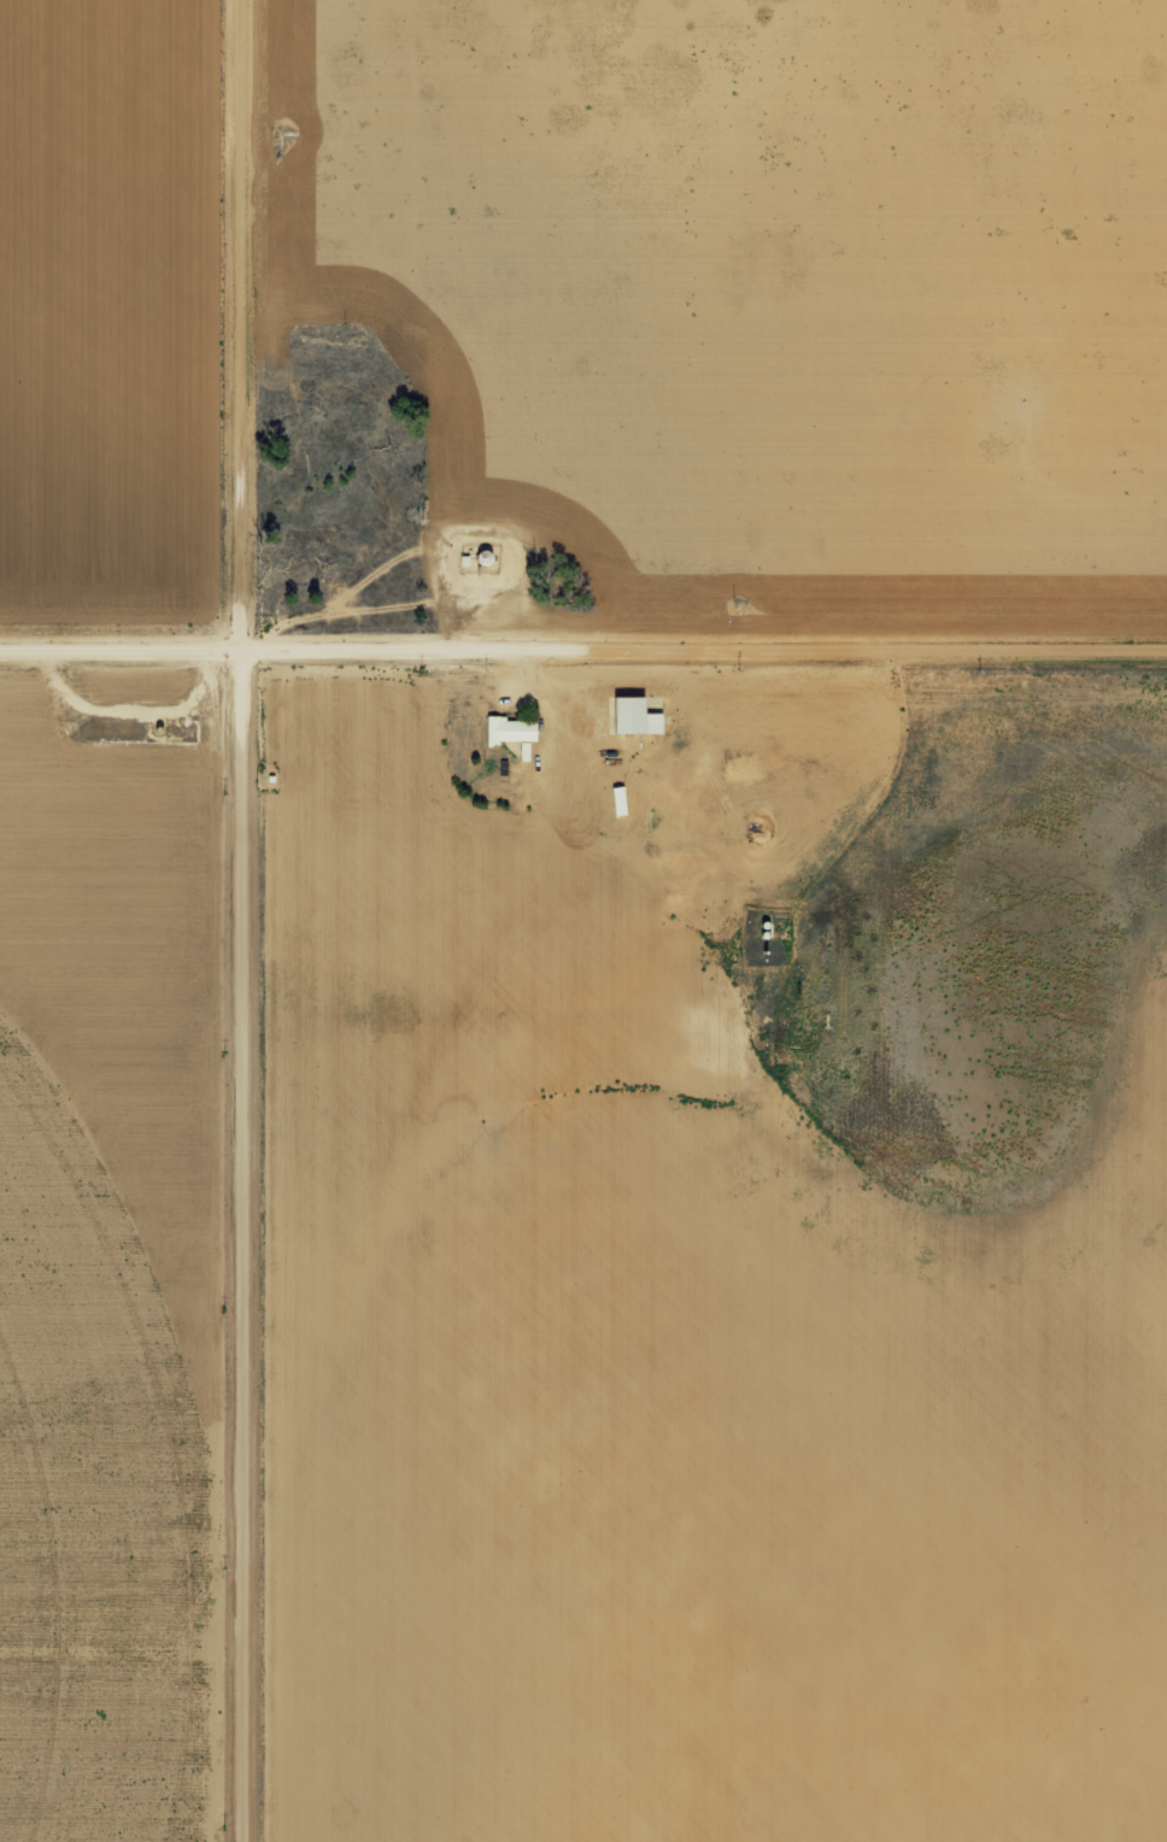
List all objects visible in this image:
road: (582, 651)
building: (509, 729)
road: (245, 921)

